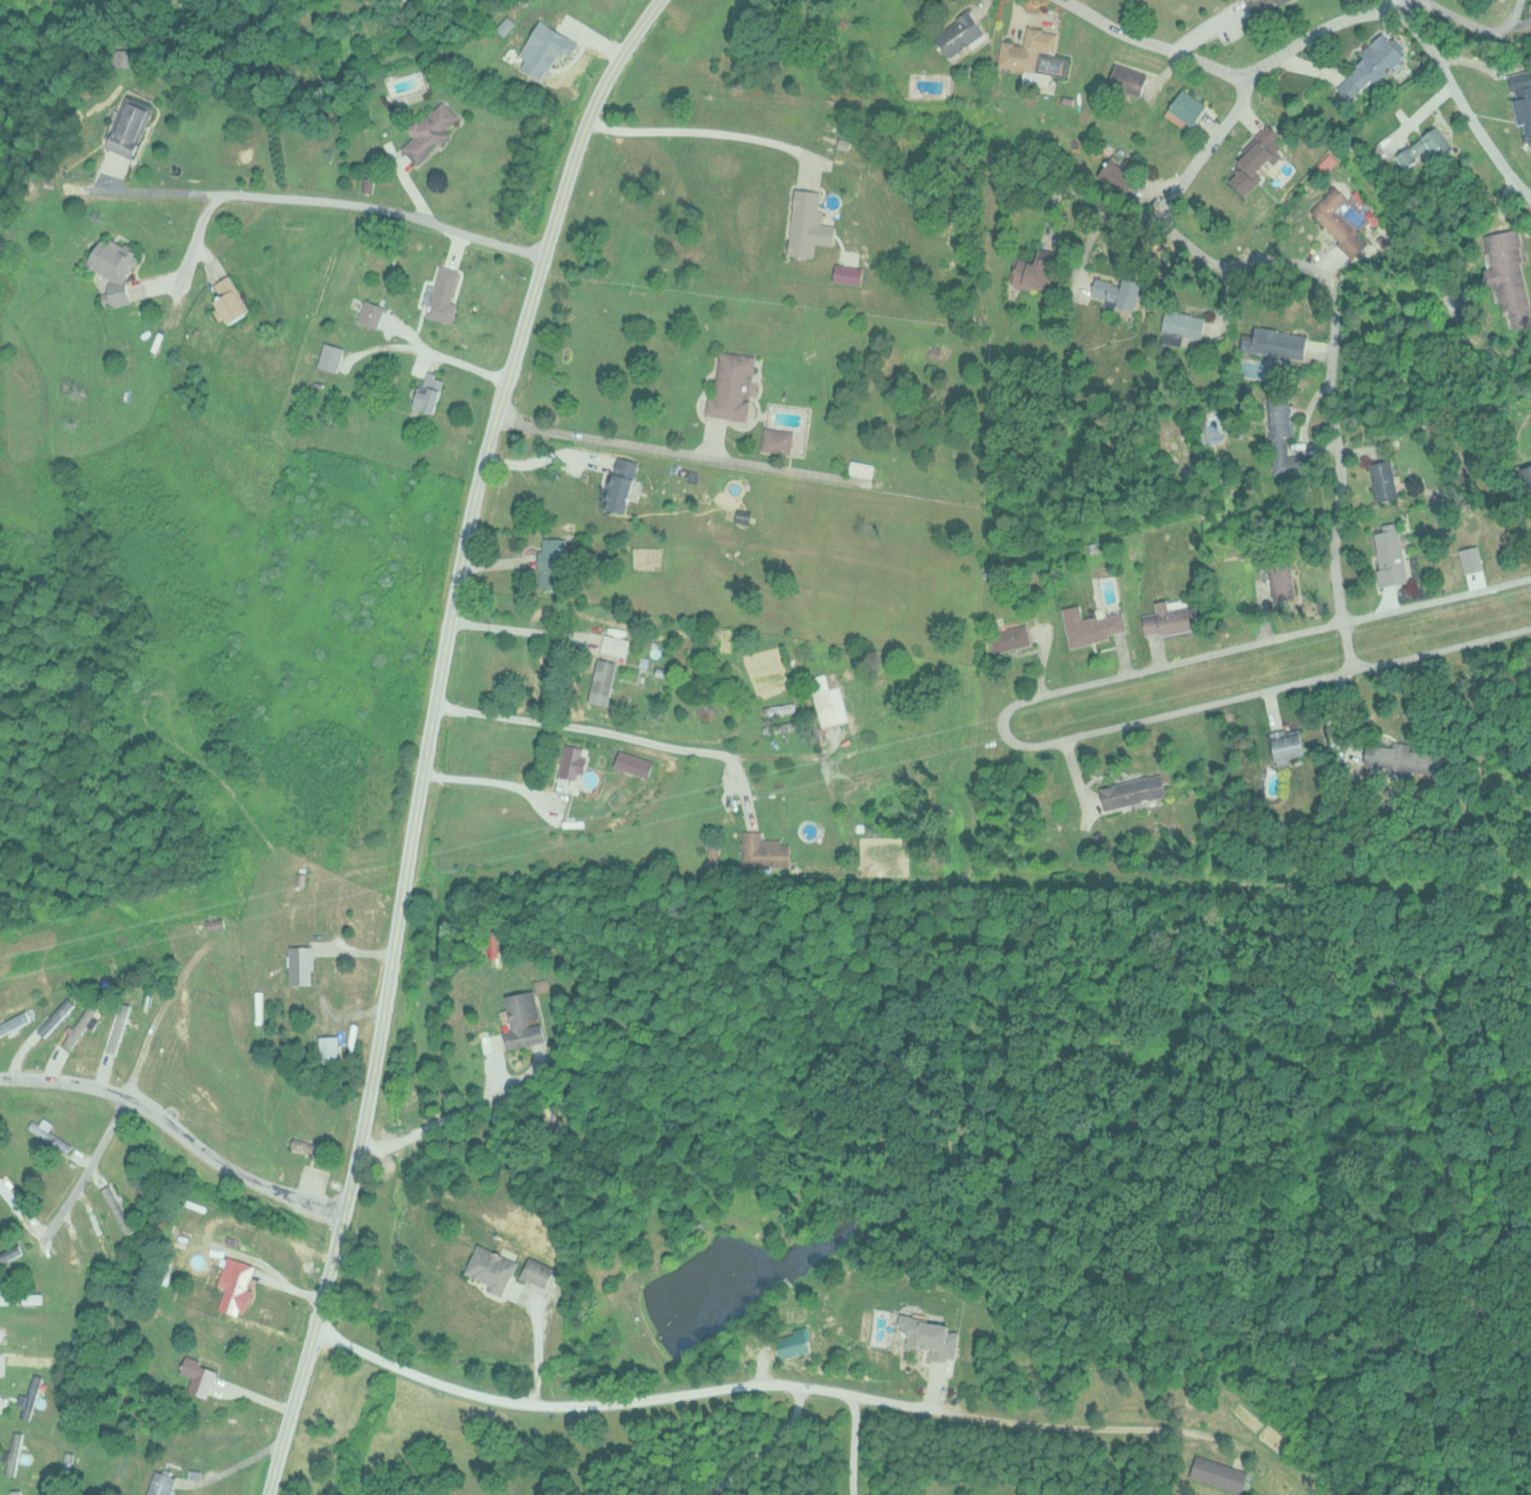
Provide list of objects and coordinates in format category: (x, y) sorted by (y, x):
building: (1266, 5)
road: (1399, 6)
road: (1473, 20)
building: (506, 24)
road: (1331, 25)
building: (960, 32)
road: (1514, 40)
building: (1034, 53)
building: (1377, 61)
building: (1130, 79)
building: (1523, 98)
building: (1189, 106)
building: (130, 127)
building: (430, 131)
road: (1204, 148)
building: (1426, 148)
building: (1257, 161)
road: (316, 198)
road: (1104, 208)
building: (1340, 221)
building: (809, 224)
building: (113, 260)
building: (1038, 269)
building: (1509, 276)
building: (1118, 291)
building: (444, 294)
building: (122, 297)
building: (232, 300)
building: (371, 313)
building: (1185, 325)
building: (1267, 341)
building: (332, 356)
road: (1330, 378)
building: (733, 386)
building: (430, 391)
building: (1283, 419)
building: (778, 440)
building: (862, 468)
building: (1530, 469)
building: (1385, 479)
building: (1390, 554)
building: (554, 562)
building: (1285, 586)
building: (1172, 618)
building: (1093, 625)
road: (516, 629)
building: (1012, 638)
building: (824, 699)
building: (780, 708)
road: (1002, 722)
building: (781, 727)
road: (596, 728)
road: (430, 735)
building: (1290, 746)
building: (1403, 758)
building: (570, 762)
building: (636, 765)
power tower: (835, 768)
road: (487, 781)
building: (1134, 791)
building: (764, 851)
building: (216, 923)
building: (302, 965)
building: (58, 1013)
building: (523, 1019)
building: (81, 1026)
building: (331, 1049)
road: (176, 1128)
building: (50, 1136)
building: (307, 1145)
road: (90, 1166)
building: (13, 1195)
building: (118, 1208)
building: (101, 1234)
building: (12, 1253)
building: (492, 1268)
building: (538, 1271)
building: (237, 1283)
building: (21, 1297)
building: (933, 1337)
building: (28, 1358)
building: (200, 1375)
road: (748, 1385)
building: (31, 1394)
road: (850, 1444)
road: (767, 1449)
road: (235, 1466)
building: (1219, 1473)
building: (163, 1481)
building: (21, 1490)

